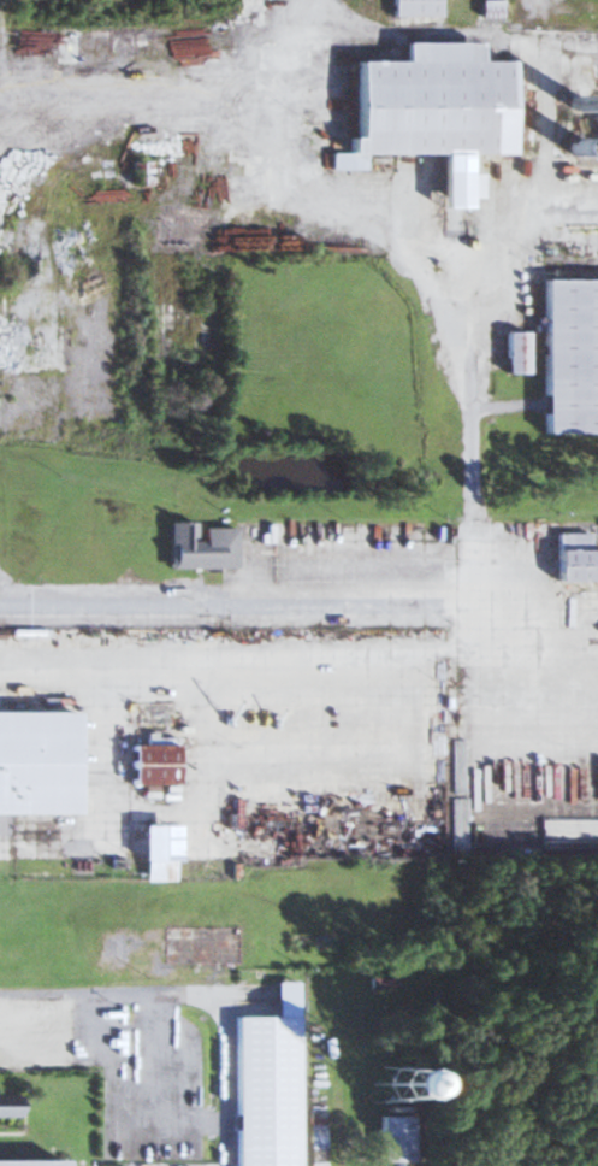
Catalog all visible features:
building: (413, 7)
building: (430, 101)
building: (141, 172)
building: (450, 276)
building: (514, 352)
building: (569, 355)
building: (200, 546)
building: (574, 559)
building: (448, 571)
road: (469, 596)
building: (36, 762)
building: (150, 765)
road: (93, 994)
building: (284, 1082)
building: (158, 1089)
building: (374, 1089)
building: (7, 1106)
building: (392, 1139)
building: (26, 1164)

